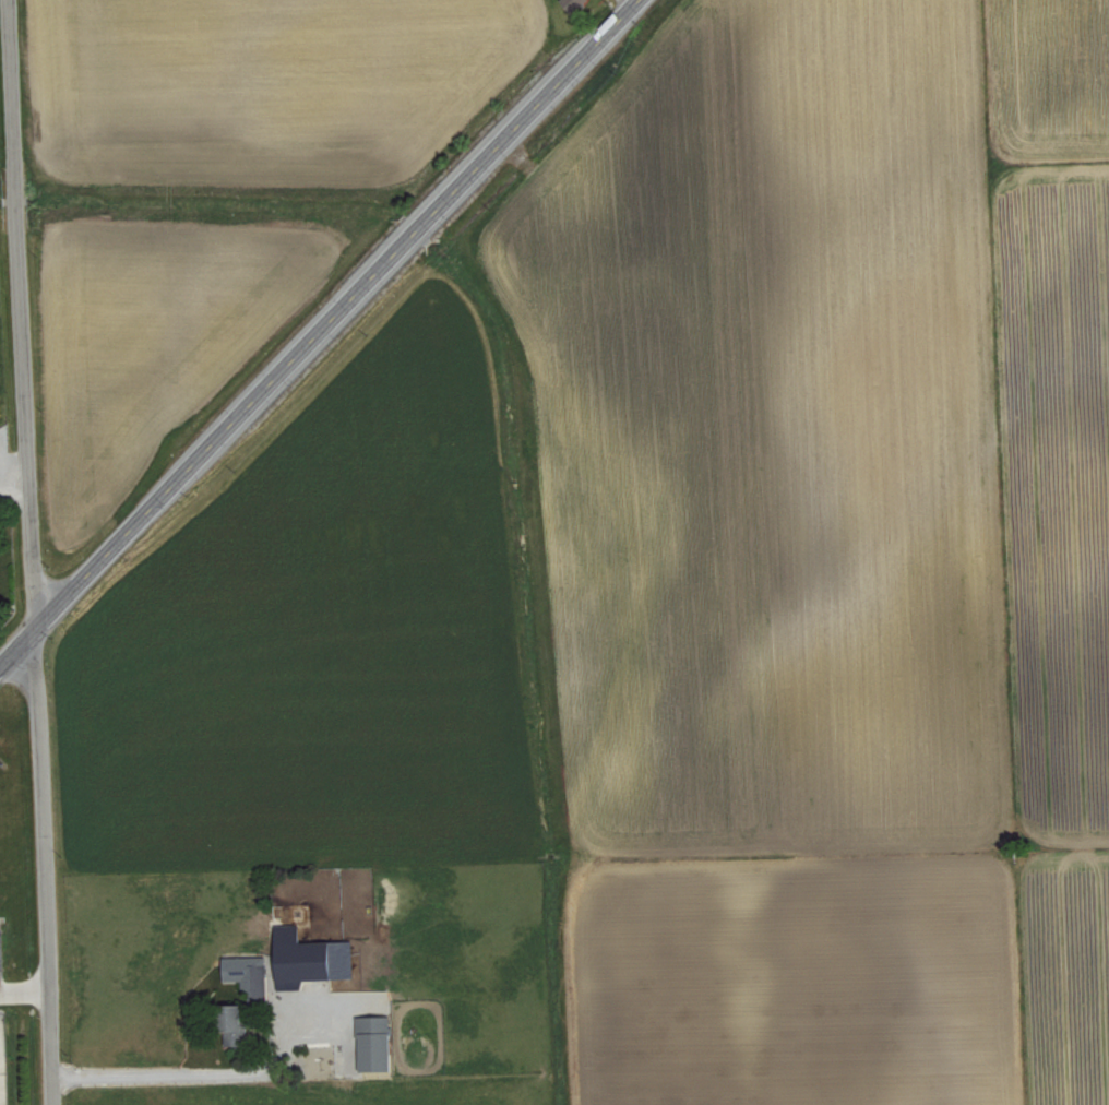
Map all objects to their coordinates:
building: (577, 3)
road: (321, 334)
road: (35, 551)
building: (311, 958)
building: (250, 976)
road: (25, 989)
building: (237, 1025)
building: (377, 1043)
road: (222, 1070)

